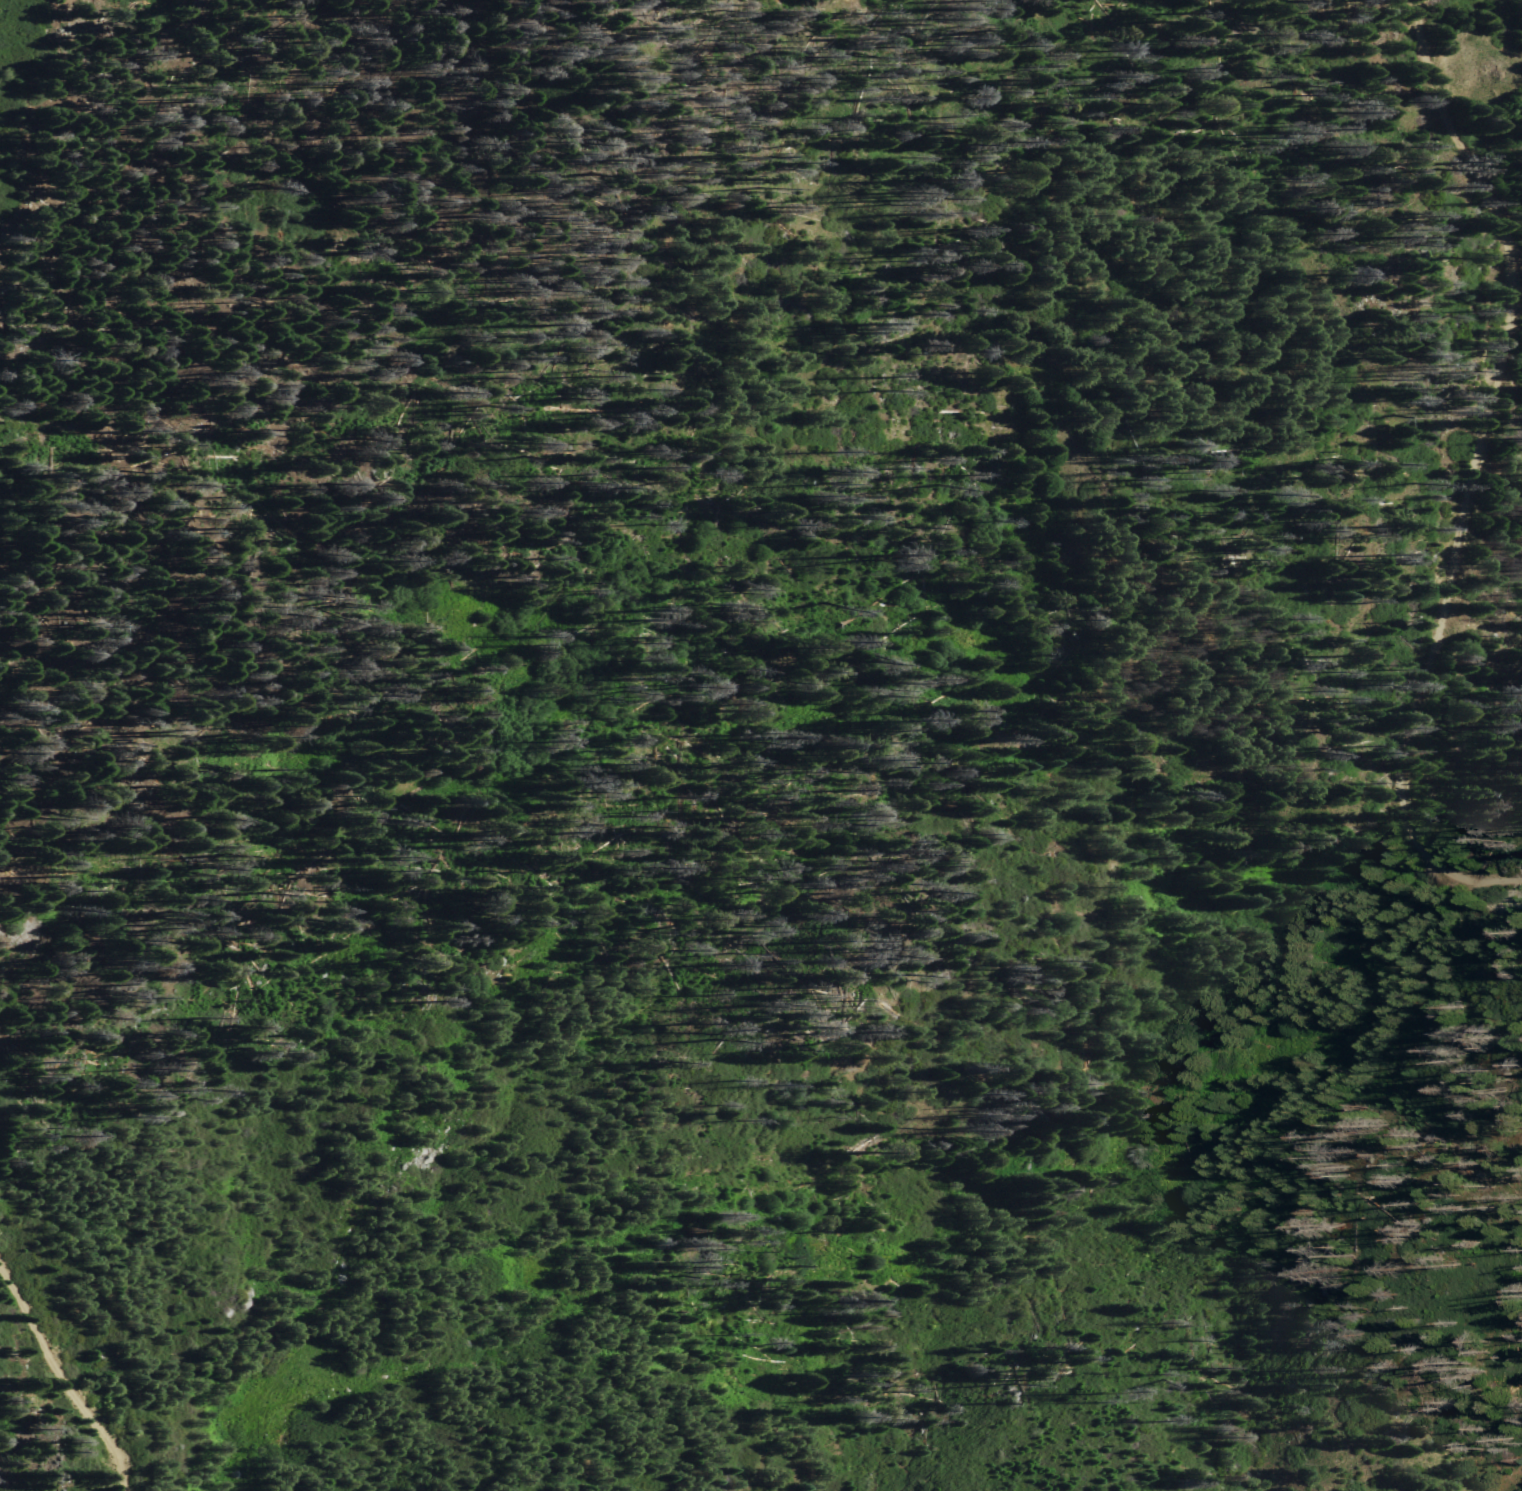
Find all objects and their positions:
road: (1462, 477)
road: (57, 1379)

